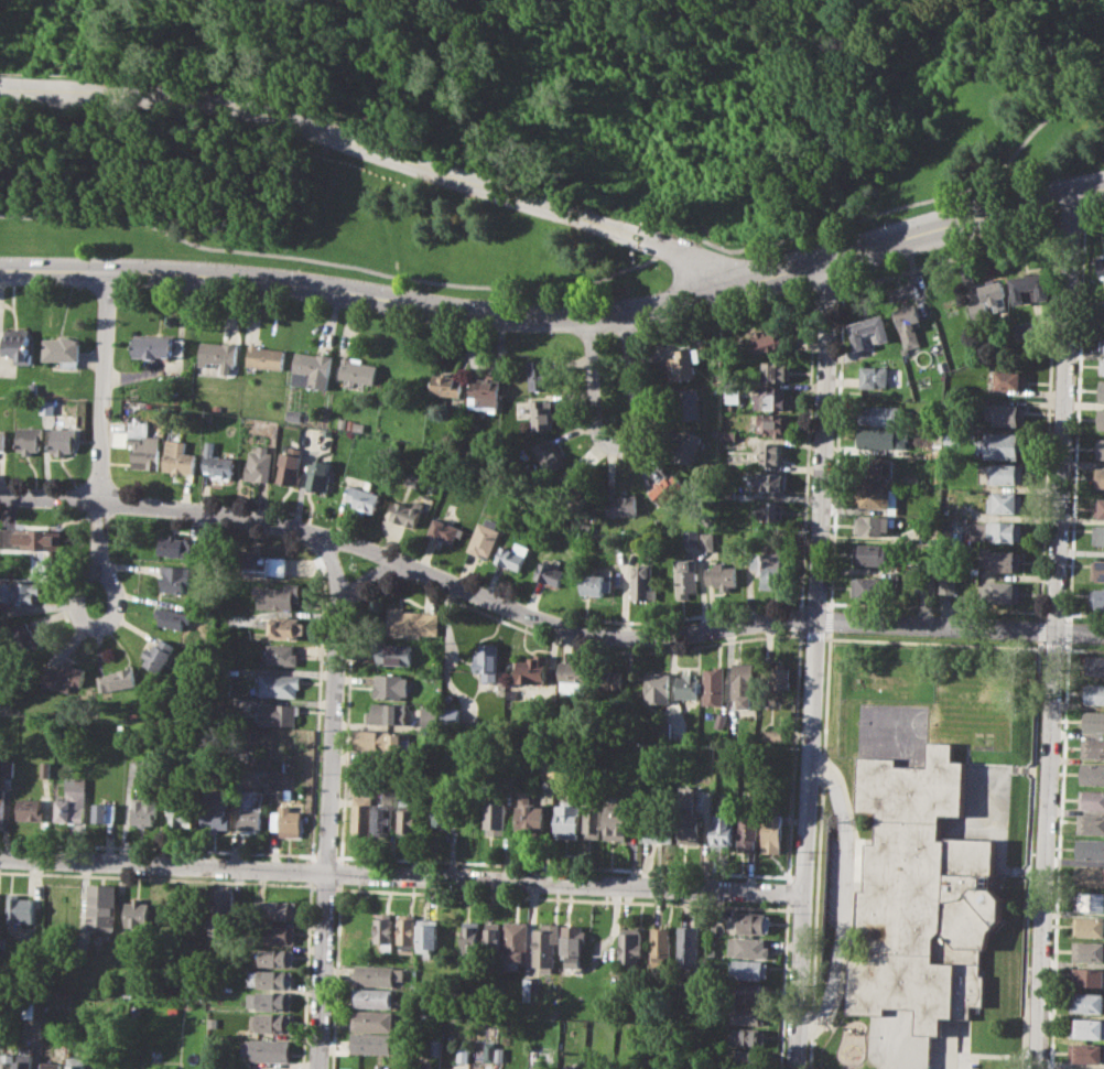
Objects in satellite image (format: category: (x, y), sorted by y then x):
road: (301, 127)
park: (524, 129)
road: (1092, 223)
road: (634, 228)
road: (1070, 228)
road: (629, 240)
road: (705, 264)
building: (1100, 264)
building: (1029, 285)
road: (574, 289)
building: (989, 300)
road: (559, 315)
building: (909, 325)
building: (869, 328)
building: (1025, 330)
building: (768, 341)
building: (20, 344)
building: (159, 347)
building: (1102, 348)
building: (65, 349)
building: (218, 354)
building: (266, 357)
building: (683, 363)
road: (485, 364)
building: (1102, 366)
building: (312, 369)
building: (359, 369)
building: (776, 370)
building: (538, 374)
building: (874, 377)
building: (1011, 379)
building: (447, 384)
building: (1101, 389)
building: (487, 391)
building: (732, 396)
building: (771, 399)
building: (688, 404)
building: (47, 407)
building: (217, 407)
building: (542, 413)
building: (881, 414)
building: (1005, 414)
building: (294, 415)
building: (1101, 418)
building: (347, 423)
building: (773, 424)
building: (361, 426)
road: (808, 438)
building: (881, 438)
building: (3, 439)
building: (31, 439)
building: (727, 439)
building: (65, 440)
road: (834, 441)
building: (141, 444)
building: (1002, 444)
building: (688, 446)
building: (1100, 447)
road: (619, 449)
building: (770, 452)
building: (548, 455)
building: (178, 458)
building: (216, 462)
building: (259, 464)
building: (289, 466)
building: (875, 466)
building: (1006, 474)
building: (318, 475)
building: (1100, 476)
building: (908, 479)
building: (769, 482)
building: (664, 487)
building: (571, 493)
road: (100, 496)
building: (873, 496)
building: (364, 497)
building: (1006, 501)
building: (621, 504)
building: (1098, 507)
building: (769, 510)
building: (408, 511)
building: (873, 525)
building: (446, 529)
building: (995, 530)
building: (1098, 534)
building: (32, 537)
building: (690, 537)
building: (484, 538)
building: (707, 540)
building: (620, 541)
building: (636, 541)
building: (178, 547)
building: (868, 553)
building: (513, 555)
building: (999, 560)
building: (264, 564)
building: (765, 568)
building: (1097, 569)
road: (332, 572)
building: (550, 573)
building: (722, 573)
building: (685, 576)
building: (175, 577)
building: (924, 582)
road: (368, 583)
building: (641, 583)
building: (948, 583)
building: (594, 584)
building: (868, 584)
building: (19, 591)
building: (1003, 592)
building: (279, 595)
building: (1096, 596)
road: (1053, 613)
road: (1083, 614)
road: (685, 616)
building: (172, 617)
road: (801, 617)
building: (411, 620)
road: (543, 622)
building: (283, 627)
road: (1054, 628)
road: (803, 633)
road: (815, 634)
building: (25, 638)
road: (931, 641)
road: (1052, 646)
road: (1085, 647)
building: (394, 652)
building: (280, 654)
building: (158, 655)
building: (486, 661)
road: (814, 665)
building: (1094, 665)
building: (531, 669)
building: (63, 676)
building: (571, 677)
building: (780, 677)
building: (117, 678)
building: (608, 678)
building: (279, 683)
building: (744, 683)
building: (391, 685)
building: (686, 685)
building: (713, 685)
building: (657, 687)
building: (509, 692)
building: (1094, 693)
building: (386, 712)
building: (277, 714)
building: (721, 721)
building: (1093, 721)
building: (663, 728)
building: (775, 734)
building: (377, 741)
road: (329, 744)
building: (1093, 747)
building: (9, 767)
building: (45, 769)
building: (1092, 774)
building: (509, 784)
building: (1092, 798)
building: (72, 806)
building: (1, 809)
building: (29, 809)
building: (181, 810)
building: (249, 810)
building: (143, 811)
building: (442, 811)
building: (104, 812)
building: (214, 814)
building: (530, 816)
building: (361, 817)
building: (381, 818)
building: (496, 818)
building: (594, 818)
building: (288, 819)
building: (616, 819)
building: (407, 820)
building: (567, 820)
building: (1091, 823)
building: (691, 825)
building: (657, 828)
building: (724, 831)
building: (749, 831)
building: (773, 832)
road: (158, 847)
building: (1091, 847)
road: (855, 855)
road: (326, 856)
road: (688, 871)
road: (402, 875)
building: (1090, 875)
road: (158, 878)
road: (790, 878)
road: (324, 886)
road: (789, 892)
parking lot: (834, 894)
road: (561, 897)
road: (840, 897)
building: (921, 898)
building: (1089, 900)
building: (101, 906)
building: (19, 908)
building: (220, 909)
building: (278, 910)
building: (137, 917)
building: (754, 921)
building: (1090, 926)
building: (386, 930)
building: (408, 932)
building: (277, 933)
building: (427, 935)
building: (472, 937)
building: (493, 938)
building: (516, 943)
building: (573, 943)
building: (631, 944)
building: (661, 946)
building: (689, 946)
building: (545, 947)
building: (749, 947)
building: (1090, 950)
building: (275, 957)
building: (751, 969)
road: (321, 970)
building: (378, 975)
building: (1091, 976)
road: (336, 978)
building: (270, 979)
building: (122, 984)
road: (784, 985)
building: (528, 986)
building: (753, 993)
building: (372, 997)
building: (273, 1001)
building: (1086, 1003)
building: (421, 1004)
building: (751, 1014)
building: (372, 1019)
building: (271, 1022)
building: (1086, 1027)
building: (750, 1037)
building: (370, 1043)
building: (436, 1047)
building: (266, 1049)
building: (490, 1050)
building: (1085, 1051)
building: (464, 1054)
building: (499, 1054)
building: (753, 1059)
building: (6, 1060)
building: (23, 1060)
building: (75, 1062)
building: (50, 1066)
building: (538, 1067)
parking lot: (943, 1067)
building: (158, 1068)
building: (1081, 1068)

